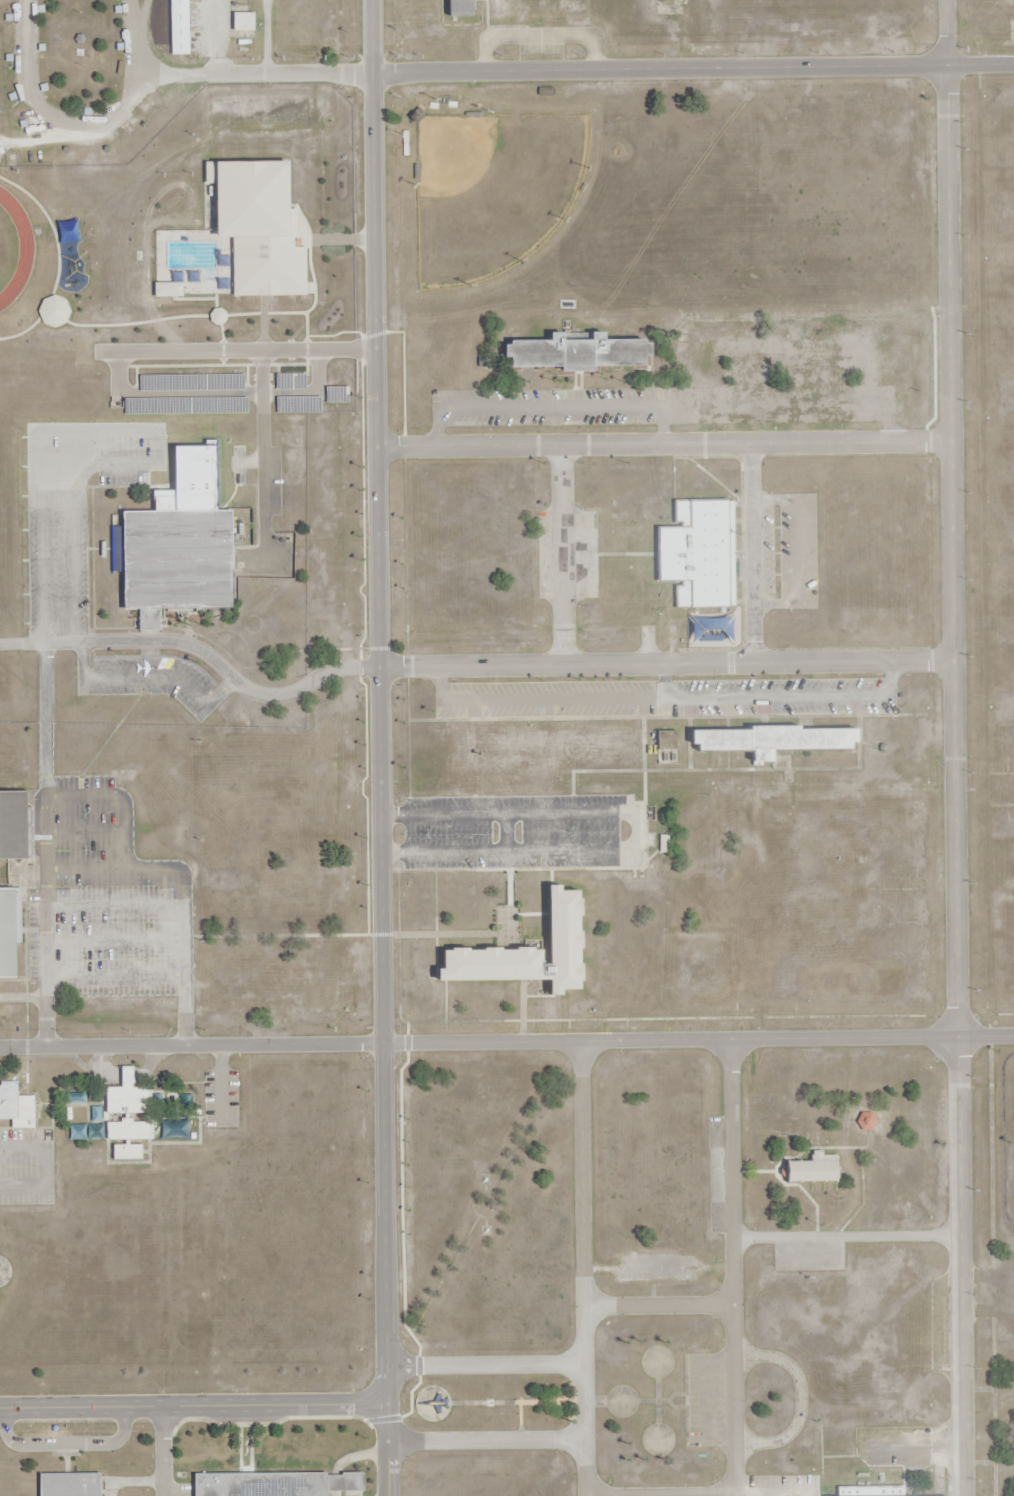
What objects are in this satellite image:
building: (1, 0)
building: (123, 5)
building: (16, 17)
building: (242, 21)
building: (179, 27)
building: (127, 44)
road: (693, 68)
building: (94, 120)
building: (23, 133)
building: (260, 225)
building: (581, 352)
building: (795, 356)
building: (68, 373)
building: (290, 382)
building: (192, 384)
building: (337, 396)
building: (299, 405)
building: (185, 406)
road: (663, 443)
road: (950, 518)
building: (179, 543)
road: (752, 552)
building: (699, 553)
road: (563, 554)
building: (713, 629)
road: (666, 662)
building: (776, 741)
building: (557, 742)
building: (667, 742)
road: (381, 748)
building: (15, 825)
building: (10, 935)
building: (532, 949)
road: (797, 1037)
road: (483, 1041)
building: (128, 1096)
building: (17, 1107)
building: (172, 1129)
building: (129, 1130)
building: (127, 1152)
building: (809, 1173)
road: (733, 1266)
road: (958, 1266)
road: (584, 1268)
road: (659, 1306)
road: (486, 1364)
road: (194, 1406)
road: (487, 1440)
building: (72, 1484)
building: (282, 1484)
road: (698, 1495)

